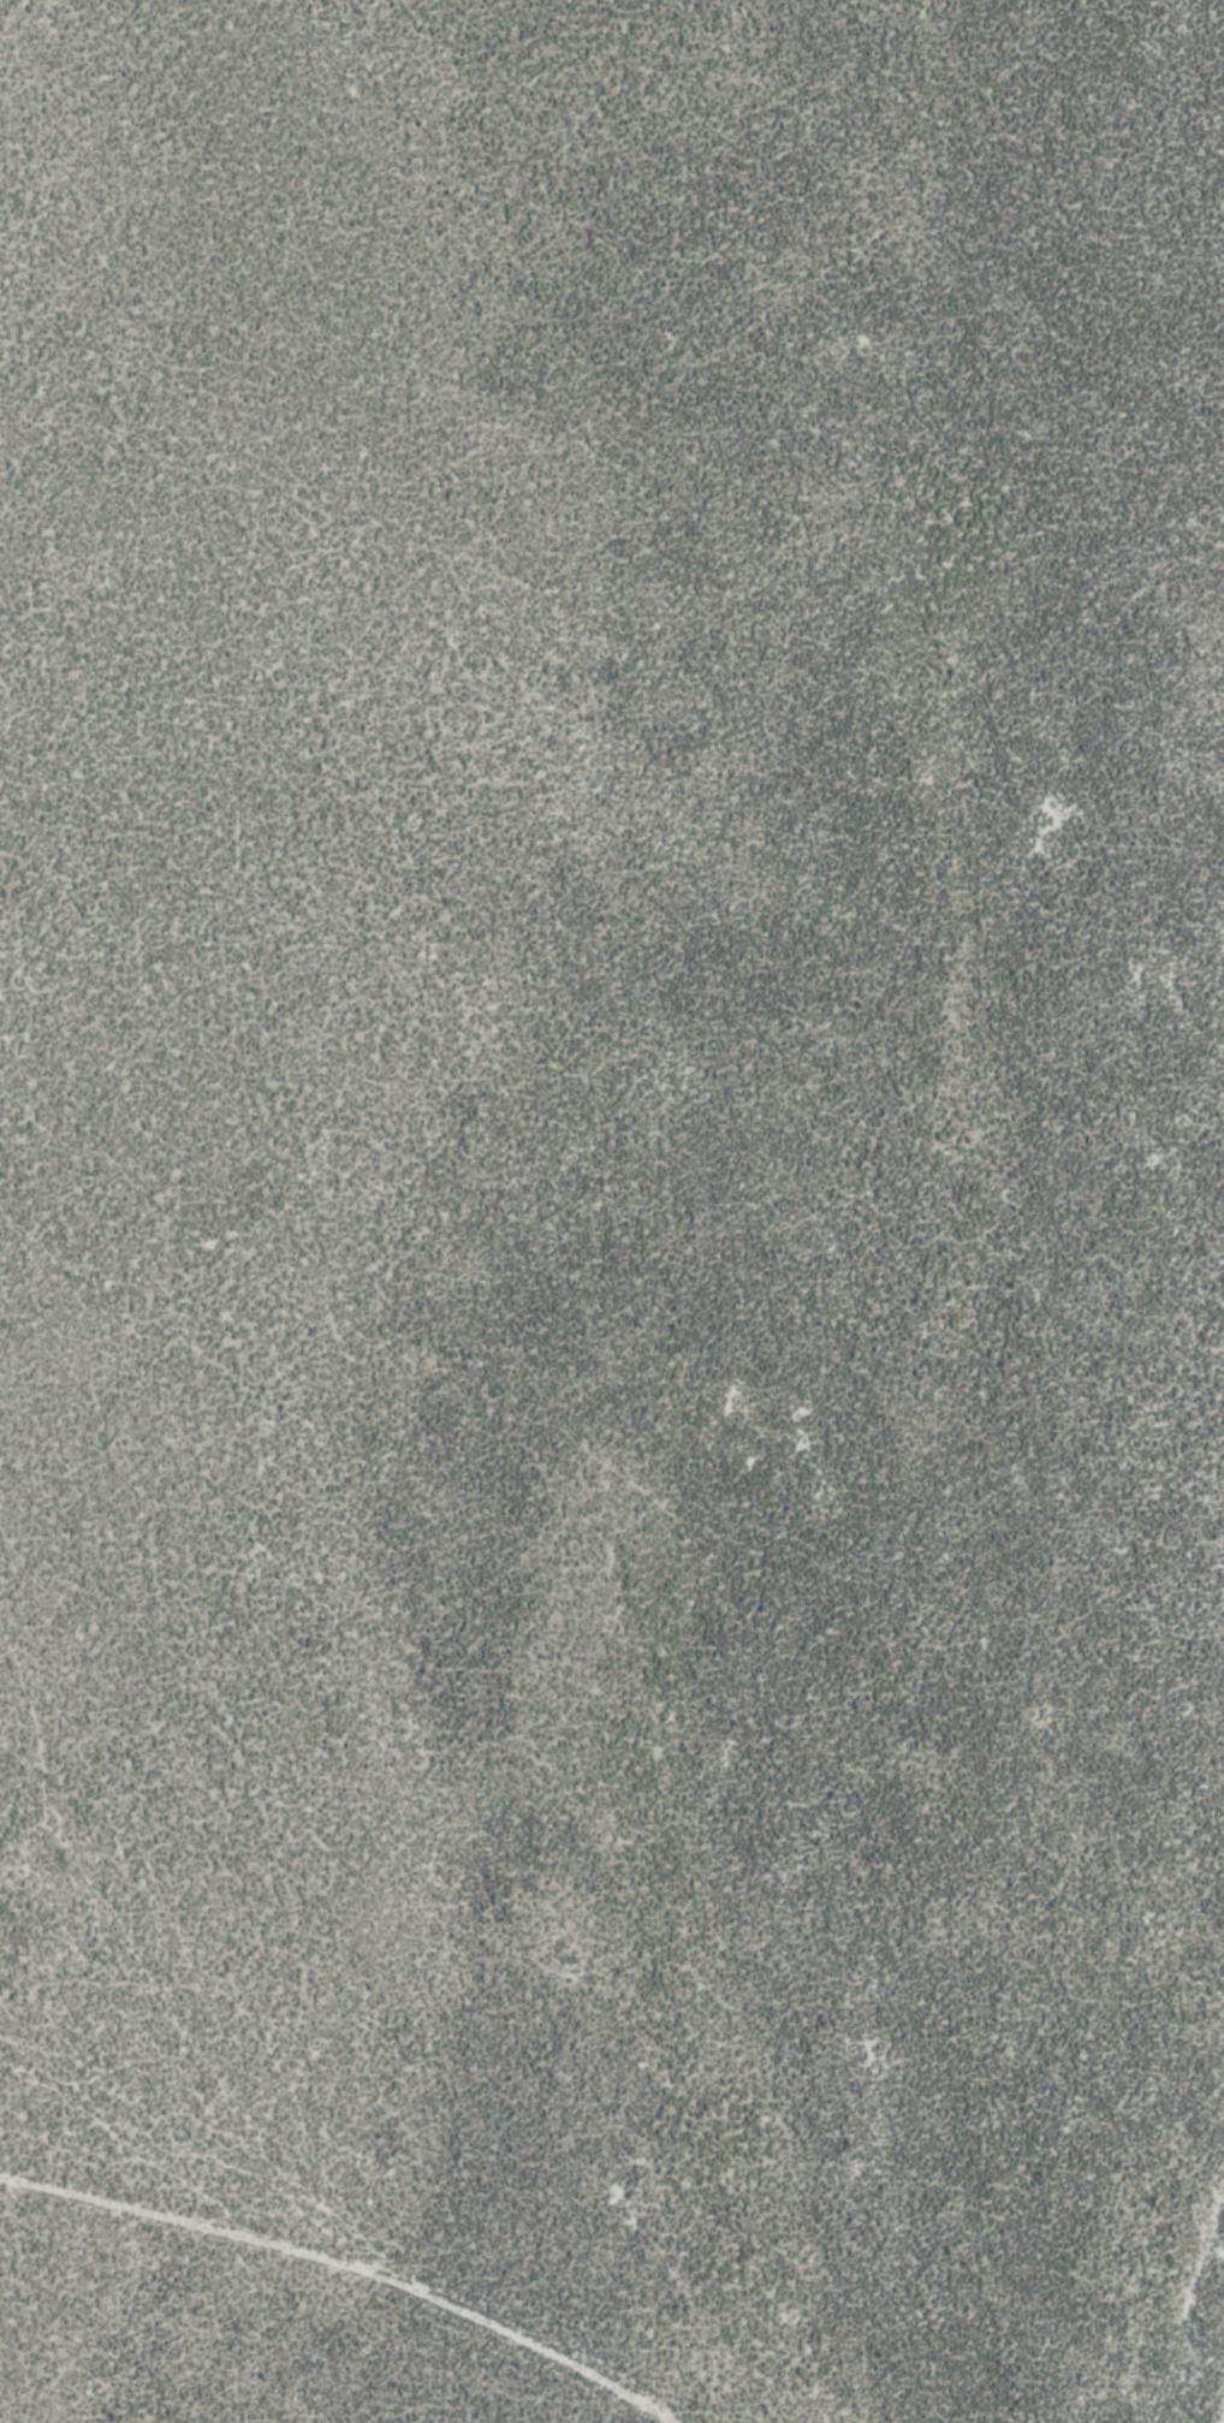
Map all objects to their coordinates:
road: (351, 2263)

